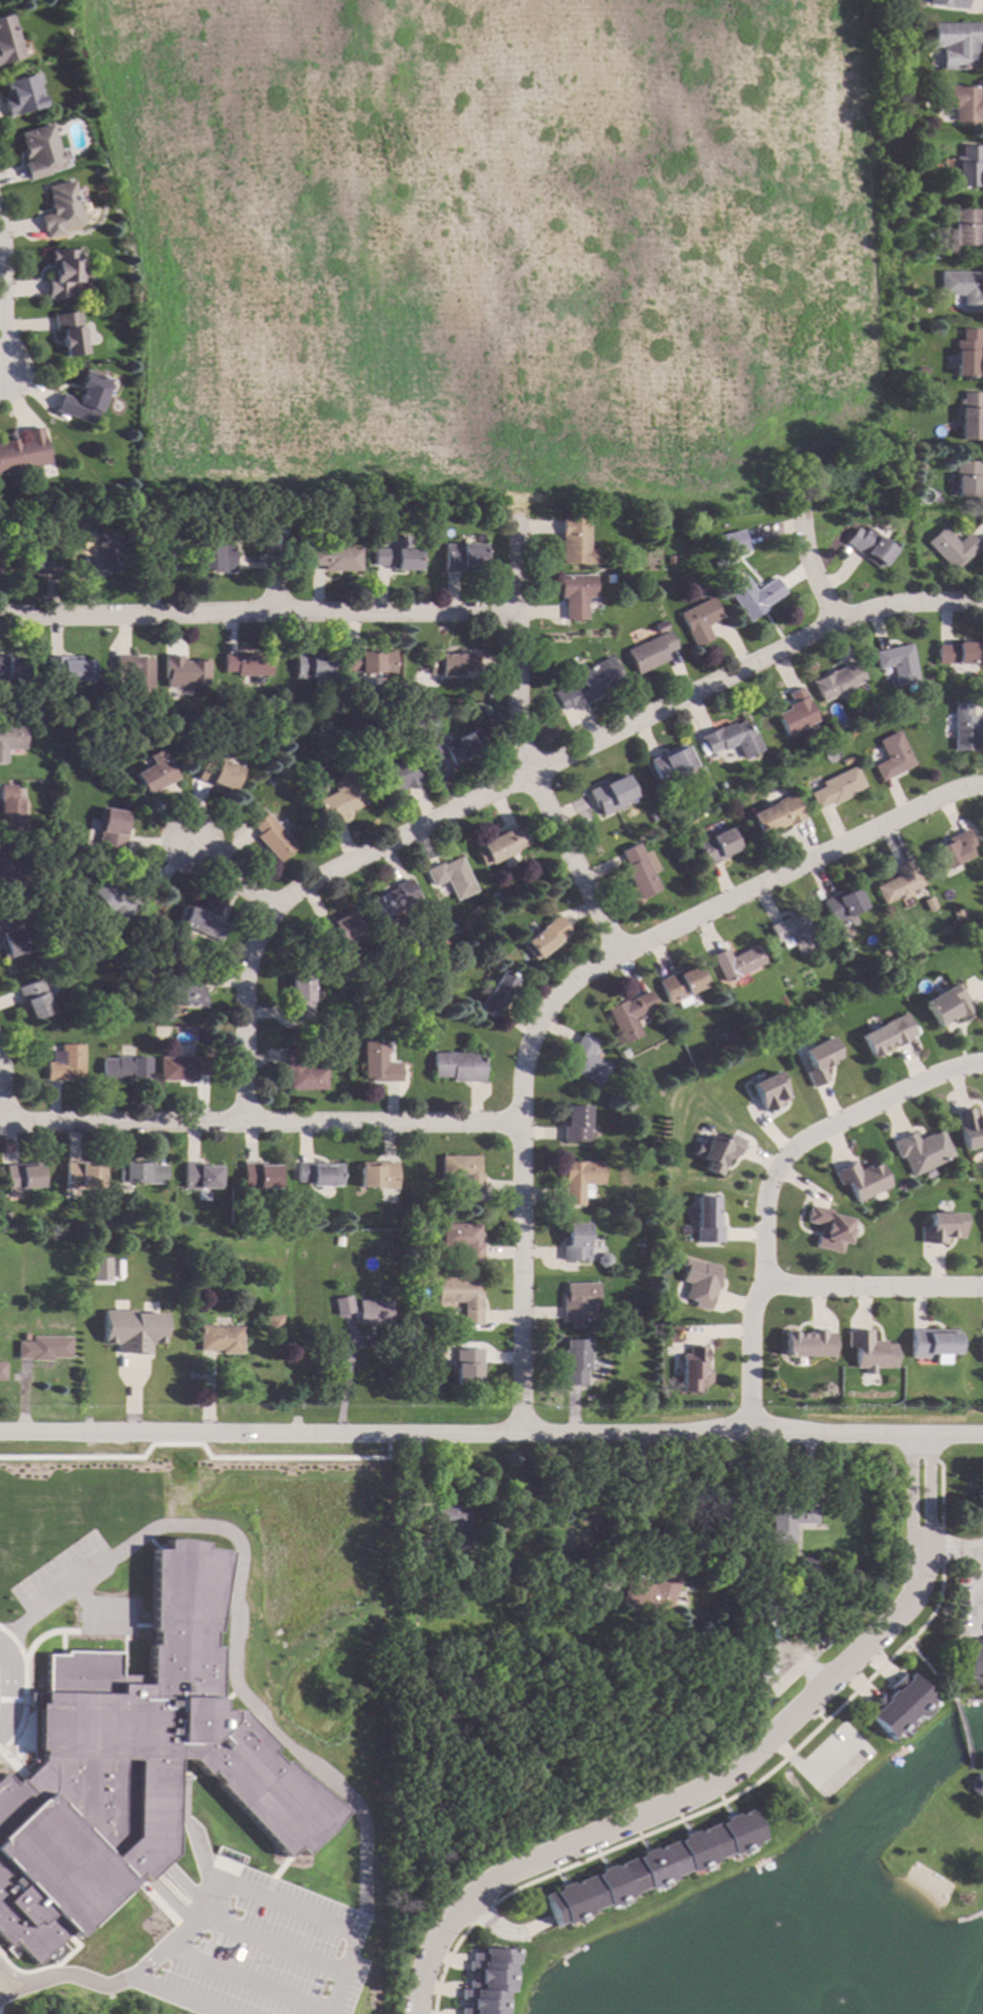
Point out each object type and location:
building: (949, 3)
building: (8, 40)
building: (958, 42)
building: (20, 95)
building: (960, 102)
building: (38, 151)
building: (966, 167)
building: (59, 210)
building: (966, 226)
crop: (499, 244)
building: (65, 271)
building: (961, 288)
road: (3, 303)
building: (70, 333)
building: (966, 354)
building: (921, 370)
building: (84, 397)
building: (970, 417)
building: (23, 452)
building: (966, 477)
building: (357, 511)
building: (574, 542)
building: (733, 542)
building: (870, 548)
building: (950, 548)
building: (162, 556)
building: (397, 556)
building: (103, 557)
building: (334, 558)
building: (462, 558)
building: (215, 559)
building: (40, 560)
building: (633, 560)
building: (667, 560)
building: (719, 565)
road: (816, 574)
building: (607, 578)
building: (574, 595)
building: (752, 596)
building: (657, 613)
road: (257, 615)
building: (697, 621)
building: (658, 624)
building: (649, 652)
building: (959, 653)
building: (368, 662)
building: (451, 664)
building: (896, 664)
building: (247, 665)
building: (310, 665)
building: (10, 668)
building: (67, 670)
building: (185, 671)
building: (135, 673)
building: (836, 682)
building: (589, 683)
building: (860, 689)
building: (794, 713)
building: (963, 727)
building: (325, 733)
building: (373, 736)
building: (731, 739)
building: (11, 740)
building: (431, 746)
road: (522, 746)
building: (396, 747)
building: (462, 747)
building: (333, 751)
building: (891, 757)
building: (844, 761)
building: (669, 765)
building: (217, 773)
building: (388, 774)
building: (155, 776)
road: (520, 776)
building: (836, 788)
building: (707, 790)
building: (609, 794)
building: (339, 800)
building: (10, 811)
building: (775, 816)
building: (649, 817)
building: (670, 821)
building: (112, 830)
building: (41, 836)
building: (271, 837)
building: (500, 846)
building: (716, 847)
building: (953, 849)
road: (799, 864)
building: (637, 872)
building: (10, 873)
road: (225, 874)
building: (451, 877)
building: (899, 883)
building: (112, 899)
building: (392, 900)
building: (929, 904)
building: (841, 905)
building: (958, 915)
building: (200, 923)
building: (339, 931)
building: (794, 933)
building: (546, 938)
building: (10, 939)
building: (736, 962)
building: (680, 985)
building: (183, 989)
building: (496, 995)
building: (299, 998)
building: (33, 999)
building: (947, 1003)
building: (628, 1016)
building: (885, 1035)
building: (727, 1036)
building: (818, 1060)
building: (585, 1061)
building: (64, 1063)
building: (377, 1064)
building: (458, 1066)
building: (182, 1068)
building: (123, 1069)
building: (302, 1073)
building: (768, 1091)
road: (6, 1093)
building: (628, 1106)
road: (259, 1119)
building: (573, 1125)
building: (969, 1129)
building: (922, 1149)
building: (715, 1151)
road: (519, 1171)
building: (140, 1173)
building: (318, 1174)
building: (461, 1174)
building: (377, 1175)
building: (21, 1176)
building: (82, 1176)
building: (258, 1176)
building: (199, 1177)
building: (861, 1179)
building: (579, 1180)
road: (767, 1183)
building: (5, 1217)
building: (705, 1219)
building: (647, 1221)
building: (107, 1225)
building: (829, 1227)
building: (942, 1227)
building: (462, 1240)
building: (1, 1241)
building: (574, 1244)
building: (98, 1269)
building: (698, 1282)
road: (872, 1283)
building: (460, 1297)
building: (577, 1301)
building: (342, 1306)
building: (371, 1312)
building: (273, 1324)
building: (131, 1330)
building: (220, 1339)
building: (411, 1341)
building: (808, 1342)
building: (932, 1343)
building: (43, 1349)
building: (981, 1349)
building: (870, 1351)
building: (576, 1362)
building: (467, 1366)
building: (692, 1368)
building: (1, 1371)
road: (345, 1380)
building: (827, 1391)
road: (491, 1433)
road: (941, 1482)
road: (929, 1489)
road: (912, 1491)
building: (790, 1521)
building: (452, 1525)
building: (397, 1527)
road: (941, 1547)
road: (953, 1547)
building: (806, 1565)
building: (803, 1580)
building: (652, 1593)
road: (234, 1625)
building: (973, 1662)
road: (929, 1672)
building: (592, 1679)
building: (465, 1680)
road: (8, 1687)
building: (484, 1697)
building: (898, 1706)
road: (961, 1736)
building: (134, 1766)
road: (756, 1779)
building: (976, 1785)
road: (682, 1796)
road: (953, 1831)
building: (652, 1867)
road: (271, 1901)
road: (483, 1913)
road: (270, 1943)
road: (445, 1965)
road: (80, 1977)
road: (13, 1978)
road: (247, 1978)
building: (487, 1981)
road: (14, 1993)
road: (179, 1995)

